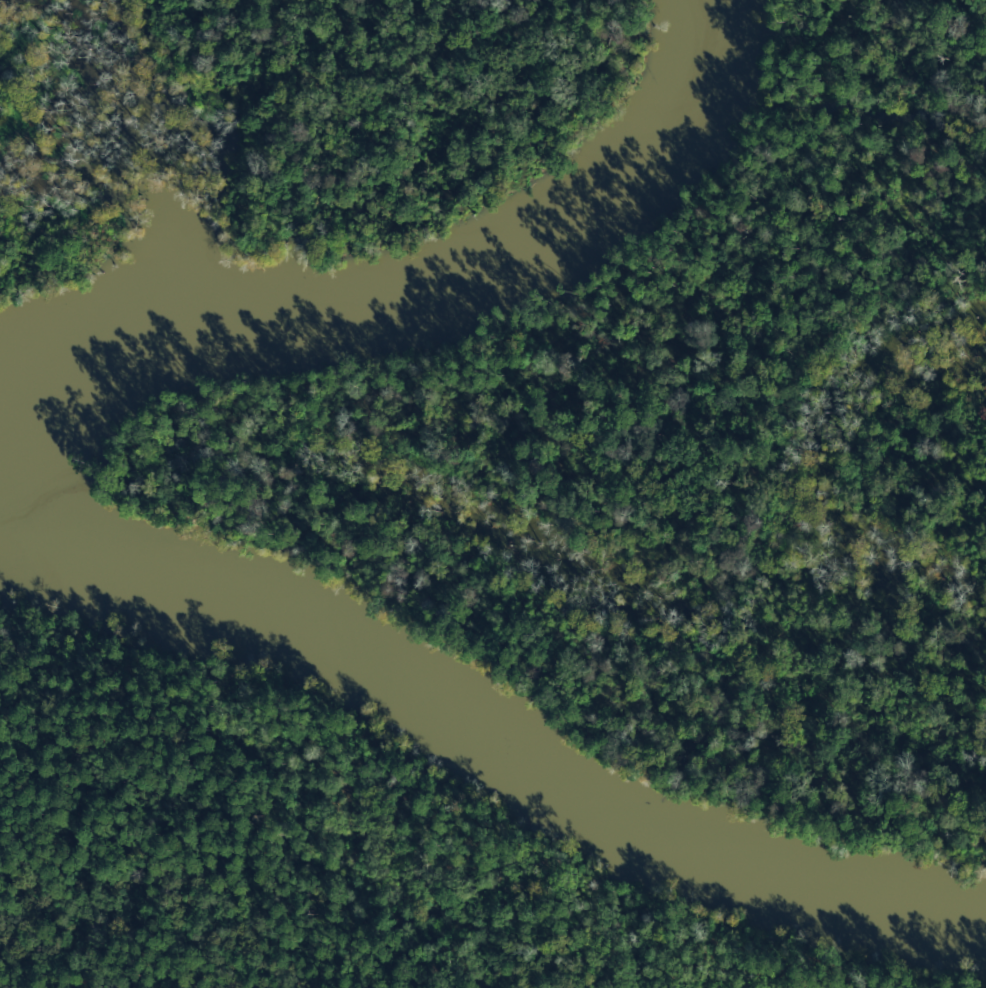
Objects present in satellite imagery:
river: (65, 539)

